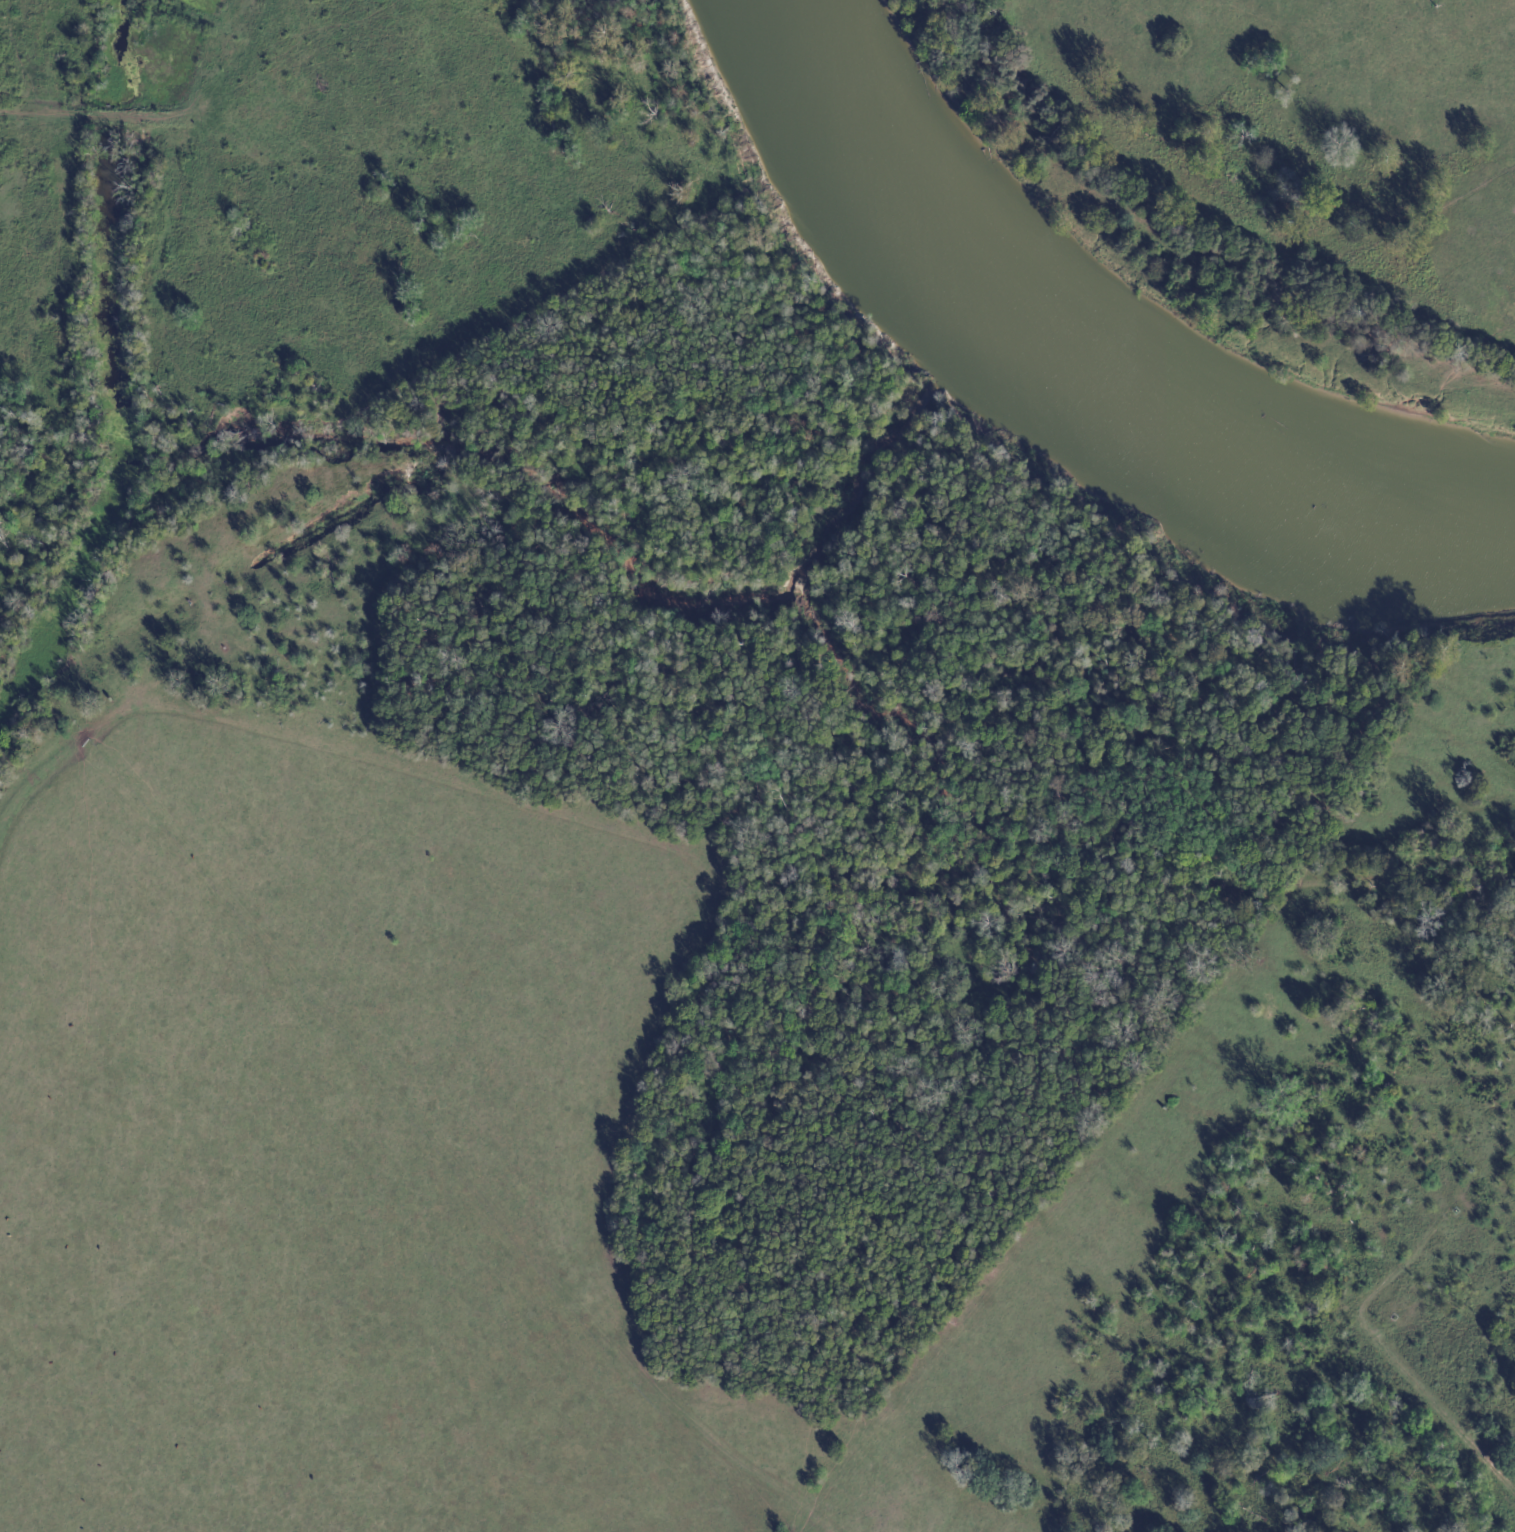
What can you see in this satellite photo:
road: (97, 111)
river: (1087, 360)
road: (1385, 1349)

